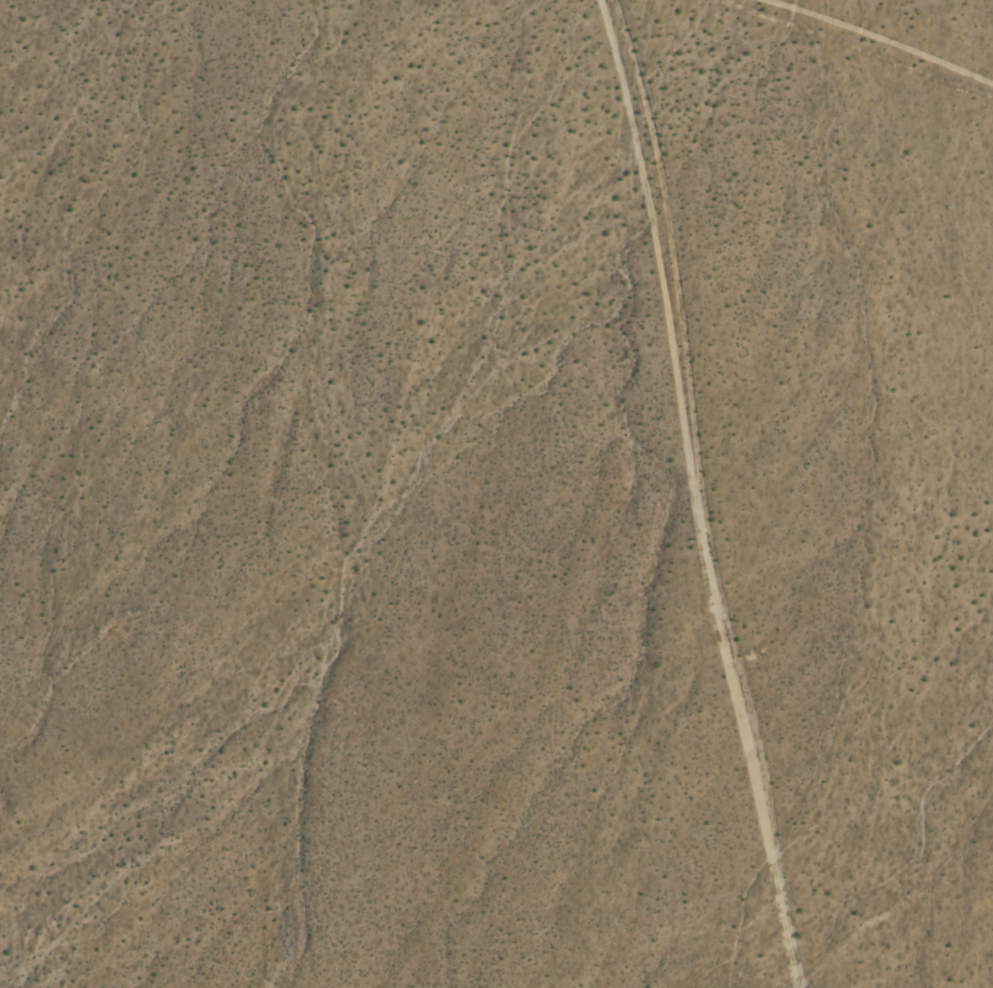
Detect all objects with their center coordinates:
road: (692, 495)

